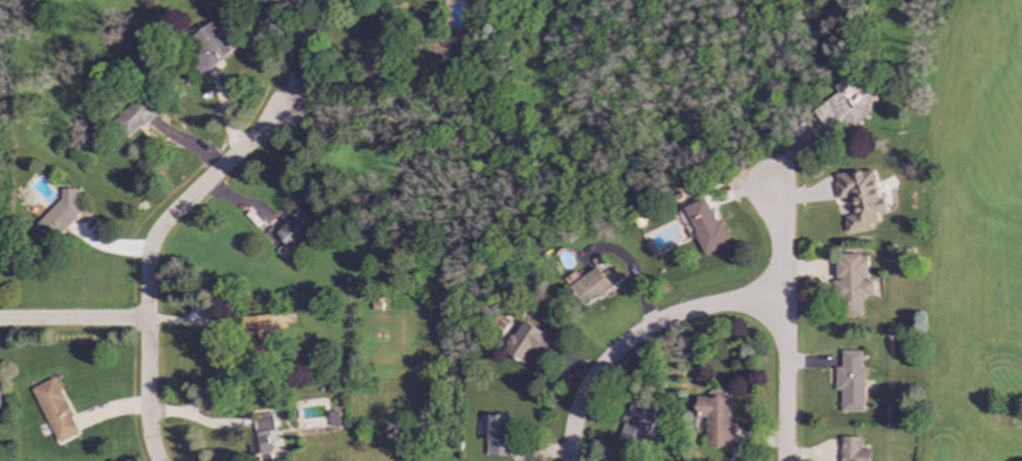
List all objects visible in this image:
building: (210, 45)
road: (314, 59)
building: (843, 105)
building: (134, 117)
building: (859, 199)
building: (57, 217)
building: (705, 226)
building: (292, 229)
park: (966, 232)
road: (146, 257)
building: (852, 283)
building: (590, 287)
road: (73, 320)
road: (784, 323)
building: (258, 333)
road: (638, 334)
building: (529, 340)
building: (849, 380)
building: (54, 409)
building: (332, 417)
building: (715, 419)
building: (636, 424)
building: (499, 435)
building: (260, 438)
building: (851, 449)

